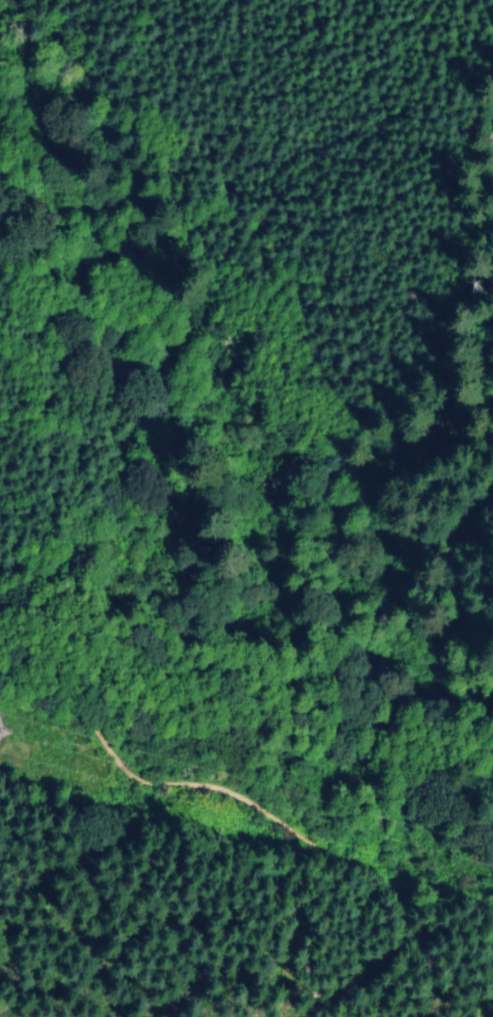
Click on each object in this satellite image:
road: (137, 971)

